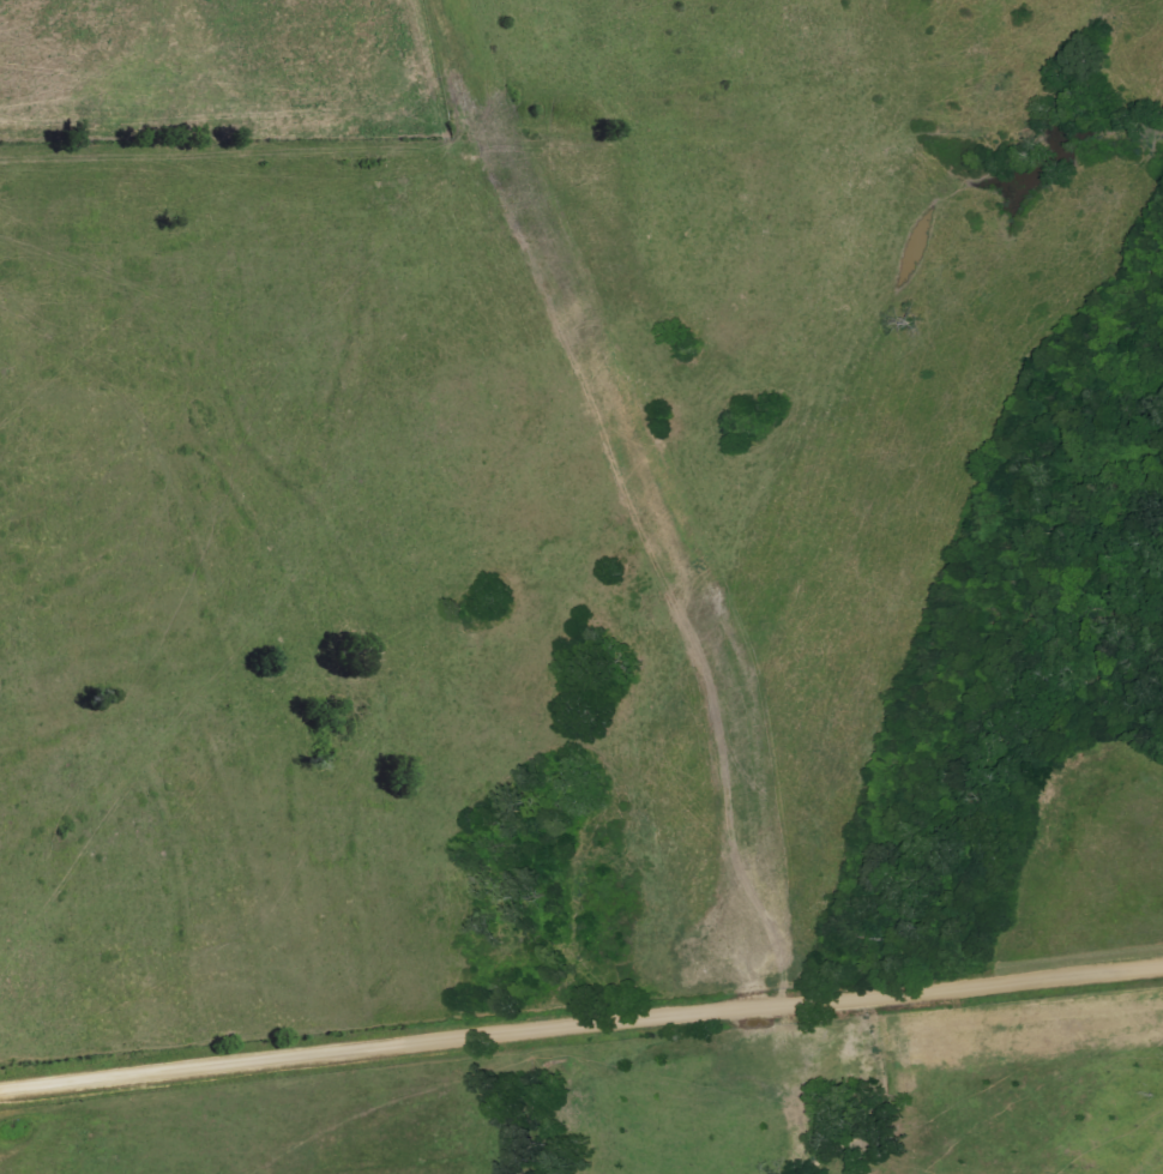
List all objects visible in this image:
road: (580, 1027)

